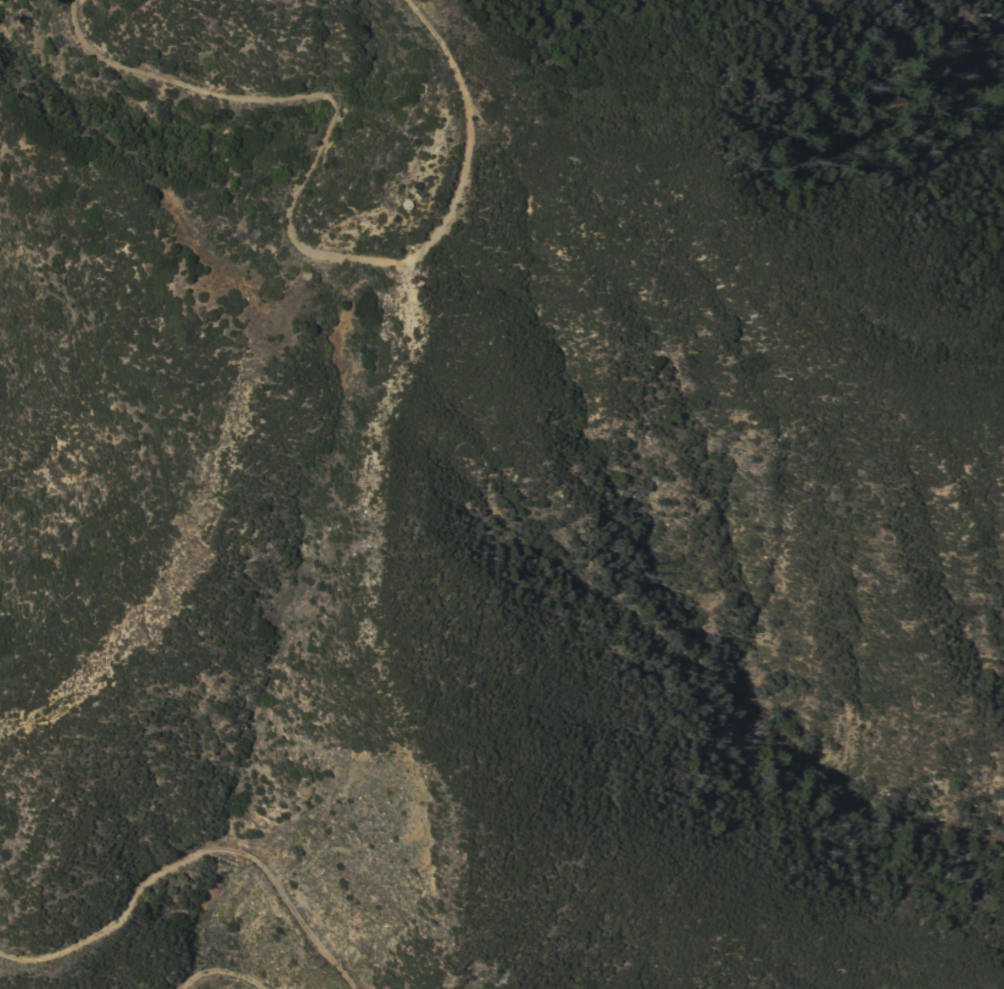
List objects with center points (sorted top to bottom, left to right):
road: (302, 191)
road: (201, 853)
road: (220, 966)

